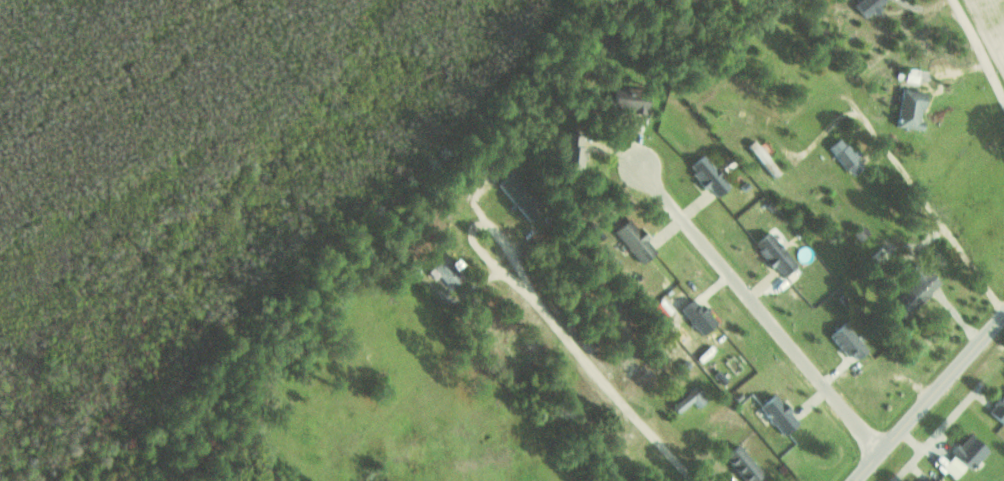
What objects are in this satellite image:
building: (868, 7)
road: (980, 38)
building: (628, 105)
building: (910, 111)
building: (573, 155)
building: (845, 157)
building: (763, 159)
building: (707, 176)
road: (913, 193)
building: (519, 197)
building: (631, 244)
building: (774, 254)
building: (446, 273)
building: (914, 294)
road: (748, 301)
building: (698, 316)
building: (848, 343)
road: (592, 368)
road: (927, 396)
building: (690, 401)
building: (998, 411)
building: (778, 415)
road: (369, 427)
building: (969, 452)
building: (741, 464)
building: (927, 478)

